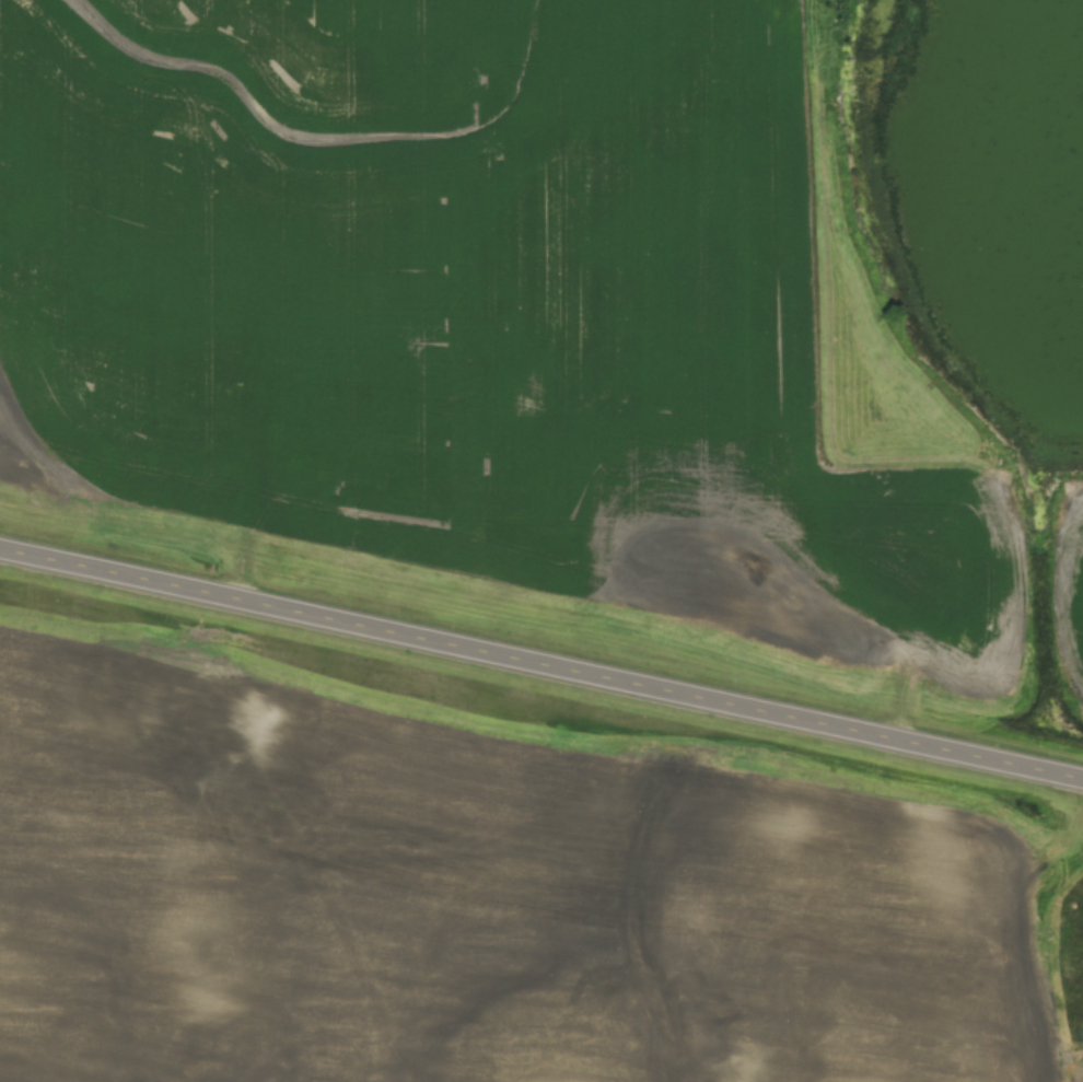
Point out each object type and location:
road: (541, 666)

